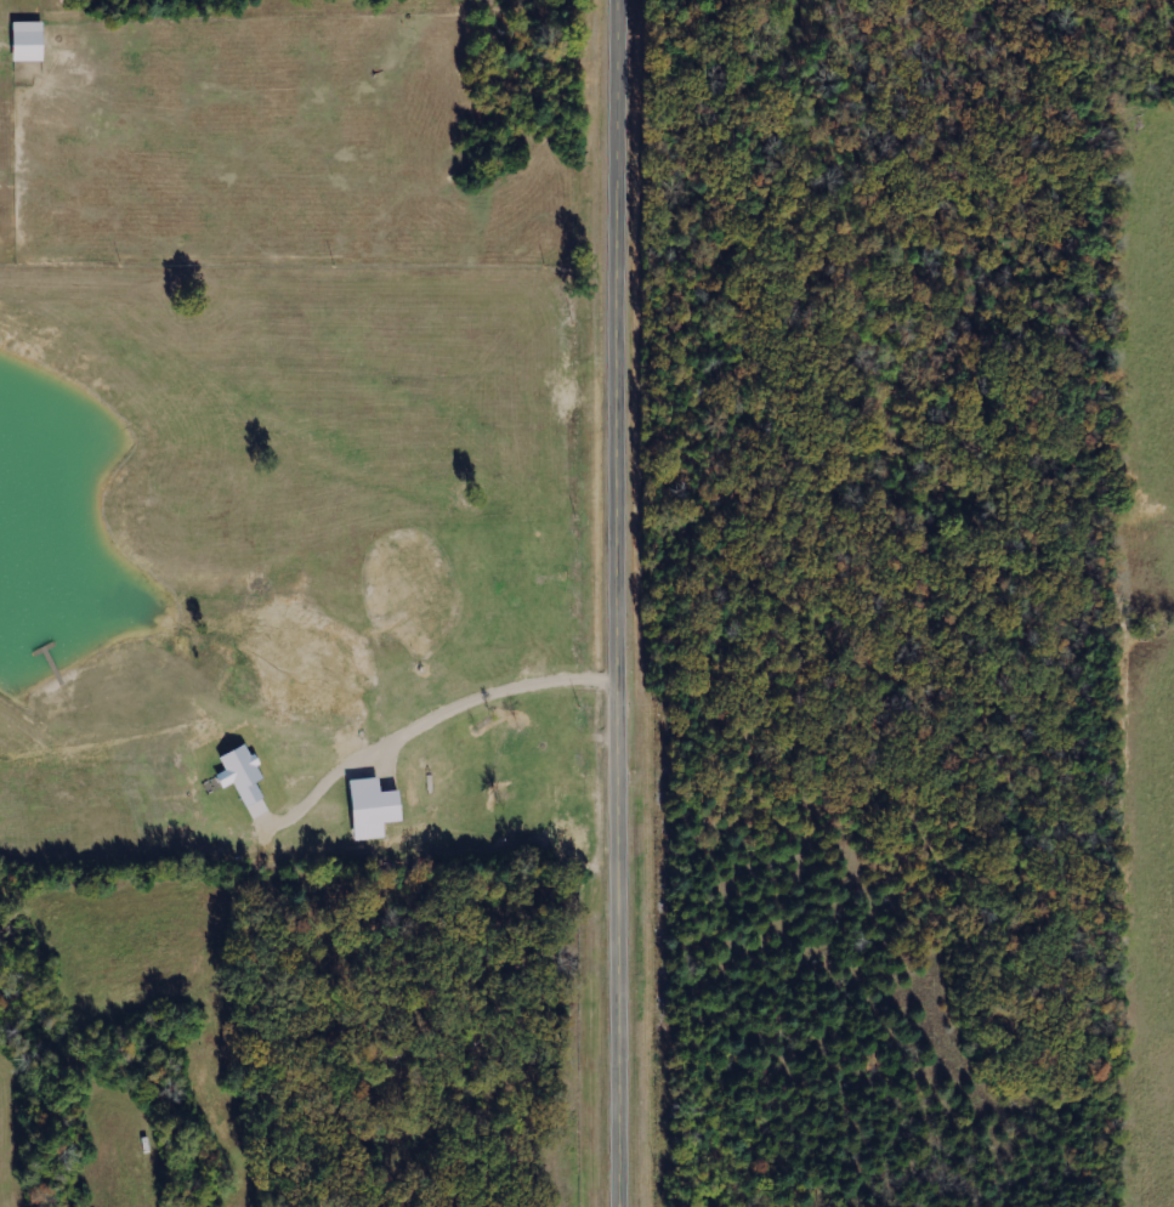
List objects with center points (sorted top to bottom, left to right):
building: (32, 40)
road: (612, 602)
building: (245, 772)
building: (378, 806)

